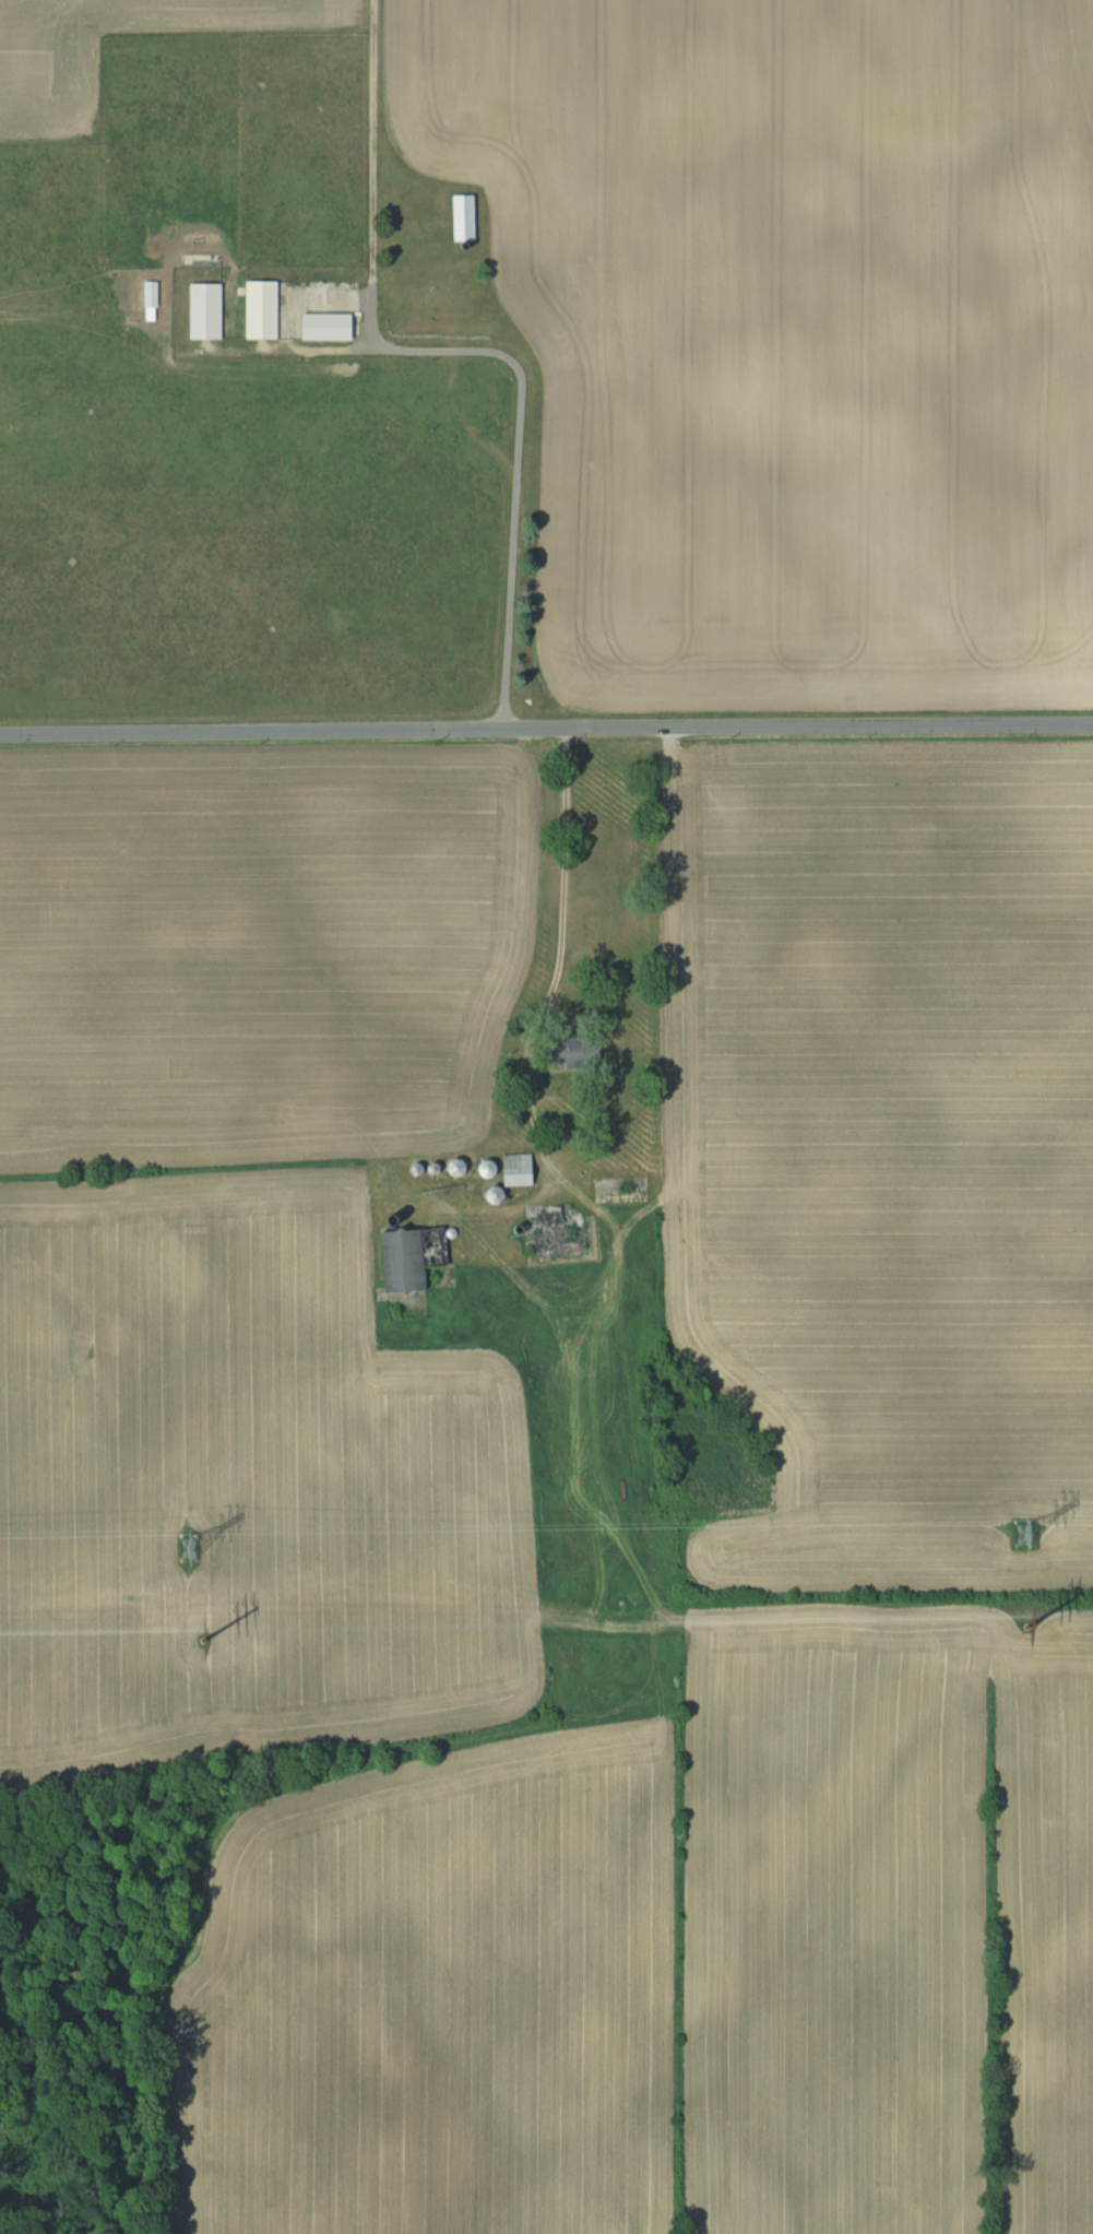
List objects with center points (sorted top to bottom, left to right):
building: (465, 216)
building: (263, 309)
building: (207, 310)
building: (329, 326)
road: (514, 449)
road: (546, 729)
road: (546, 899)
building: (579, 1051)
building: (461, 1166)
building: (491, 1167)
building: (414, 1255)
power tower: (1023, 1534)
power tower: (187, 1547)
power tower: (1024, 1627)
power tower: (200, 1635)

